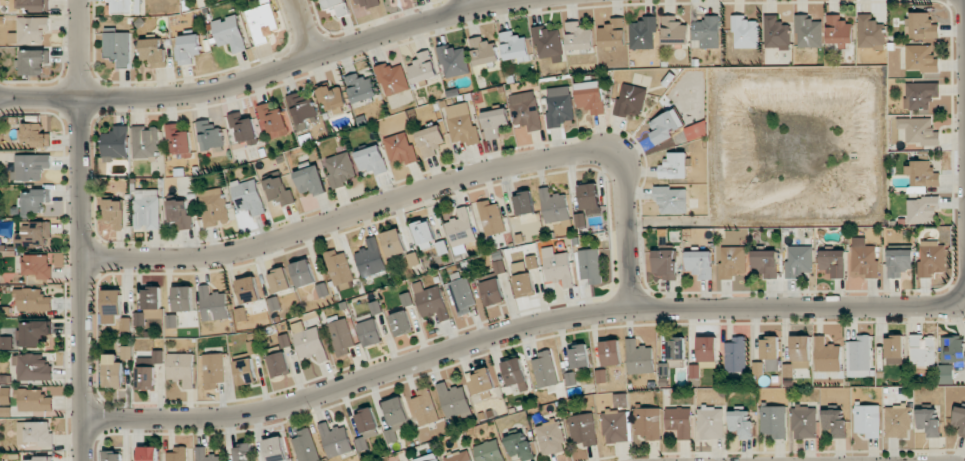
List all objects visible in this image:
building: (365, 3)
road: (470, 3)
building: (33, 4)
building: (124, 6)
building: (334, 6)
building: (263, 21)
building: (923, 26)
road: (304, 27)
building: (838, 30)
building: (31, 31)
building: (674, 31)
building: (808, 31)
building: (707, 32)
building: (744, 32)
building: (870, 32)
building: (229, 33)
building: (643, 33)
building: (776, 33)
building: (612, 34)
building: (579, 36)
building: (547, 42)
building: (513, 45)
building: (118, 47)
building: (189, 48)
building: (155, 51)
building: (483, 51)
building: (921, 58)
building: (34, 61)
building: (454, 61)
road: (964, 61)
building: (423, 69)
road: (253, 74)
building: (392, 78)
building: (361, 87)
building: (921, 95)
building: (591, 97)
building: (333, 98)
building: (630, 100)
building: (559, 105)
building: (302, 107)
building: (526, 110)
building: (273, 122)
building: (462, 123)
building: (664, 126)
building: (243, 129)
building: (919, 130)
building: (696, 131)
building: (35, 135)
building: (209, 135)
building: (179, 138)
building: (430, 140)
building: (145, 142)
building: (400, 148)
building: (372, 160)
building: (30, 166)
building: (674, 166)
building: (340, 169)
road: (424, 176)
building: (921, 176)
building: (310, 180)
building: (279, 191)
building: (589, 196)
building: (248, 197)
building: (671, 199)
building: (34, 201)
building: (524, 203)
building: (213, 206)
building: (554, 206)
building: (147, 209)
building: (922, 209)
building: (114, 212)
building: (180, 214)
building: (491, 218)
building: (461, 228)
road: (82, 230)
building: (423, 232)
building: (33, 234)
building: (393, 243)
building: (370, 259)
building: (932, 259)
building: (798, 260)
building: (865, 260)
building: (733, 261)
building: (899, 262)
building: (700, 263)
building: (765, 263)
building: (834, 263)
building: (665, 264)
building: (590, 265)
building: (37, 266)
building: (557, 266)
building: (339, 267)
building: (303, 273)
building: (524, 277)
building: (279, 280)
building: (248, 290)
building: (492, 292)
building: (462, 295)
building: (183, 298)
building: (33, 300)
building: (431, 301)
building: (213, 304)
building: (111, 305)
building: (150, 305)
building: (401, 323)
road: (526, 323)
building: (36, 332)
building: (371, 332)
building: (341, 336)
building: (309, 342)
building: (707, 348)
building: (894, 349)
building: (952, 349)
building: (923, 351)
building: (126, 352)
building: (770, 352)
building: (610, 353)
building: (673, 355)
building: (735, 355)
building: (798, 355)
building: (827, 355)
building: (579, 356)
building: (859, 356)
building: (157, 357)
building: (639, 358)
building: (707, 364)
building: (277, 365)
building: (33, 366)
building: (181, 368)
building: (544, 369)
building: (213, 370)
building: (113, 371)
building: (245, 371)
building: (515, 373)
building: (946, 374)
building: (146, 378)
building: (482, 381)
building: (35, 400)
building: (424, 407)
building: (397, 413)
building: (959, 419)
building: (773, 420)
building: (867, 420)
building: (367, 421)
building: (804, 421)
building: (897, 421)
building: (928, 421)
building: (679, 422)
building: (648, 423)
building: (710, 423)
building: (741, 423)
building: (834, 423)
building: (615, 426)
building: (583, 429)
building: (34, 433)
building: (550, 437)
building: (335, 440)
building: (305, 446)
building: (519, 446)
building: (275, 449)
building: (489, 451)
building: (243, 452)
building: (148, 454)
building: (176, 454)
building: (113, 455)
building: (206, 455)
building: (460, 456)
building: (428, 458)
building: (38, 459)

